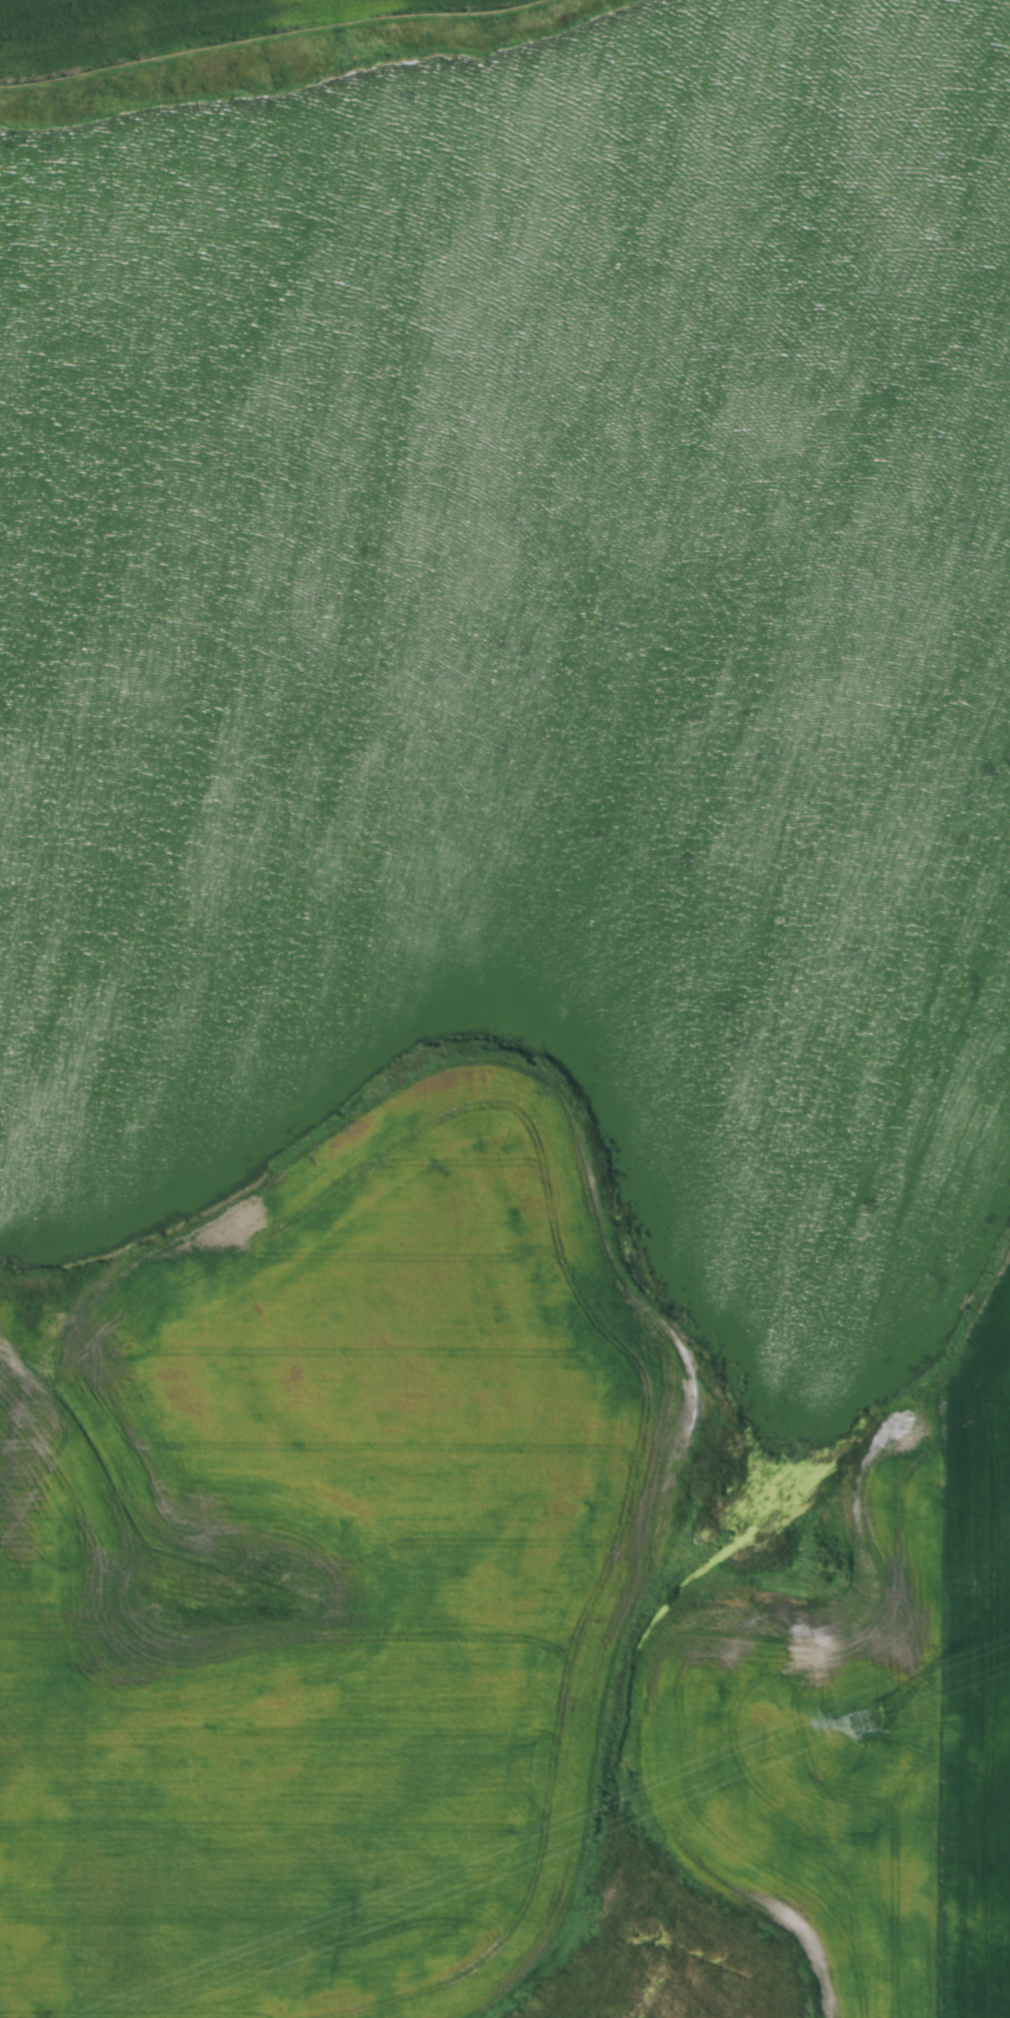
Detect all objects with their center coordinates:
power tower: (868, 1725)

